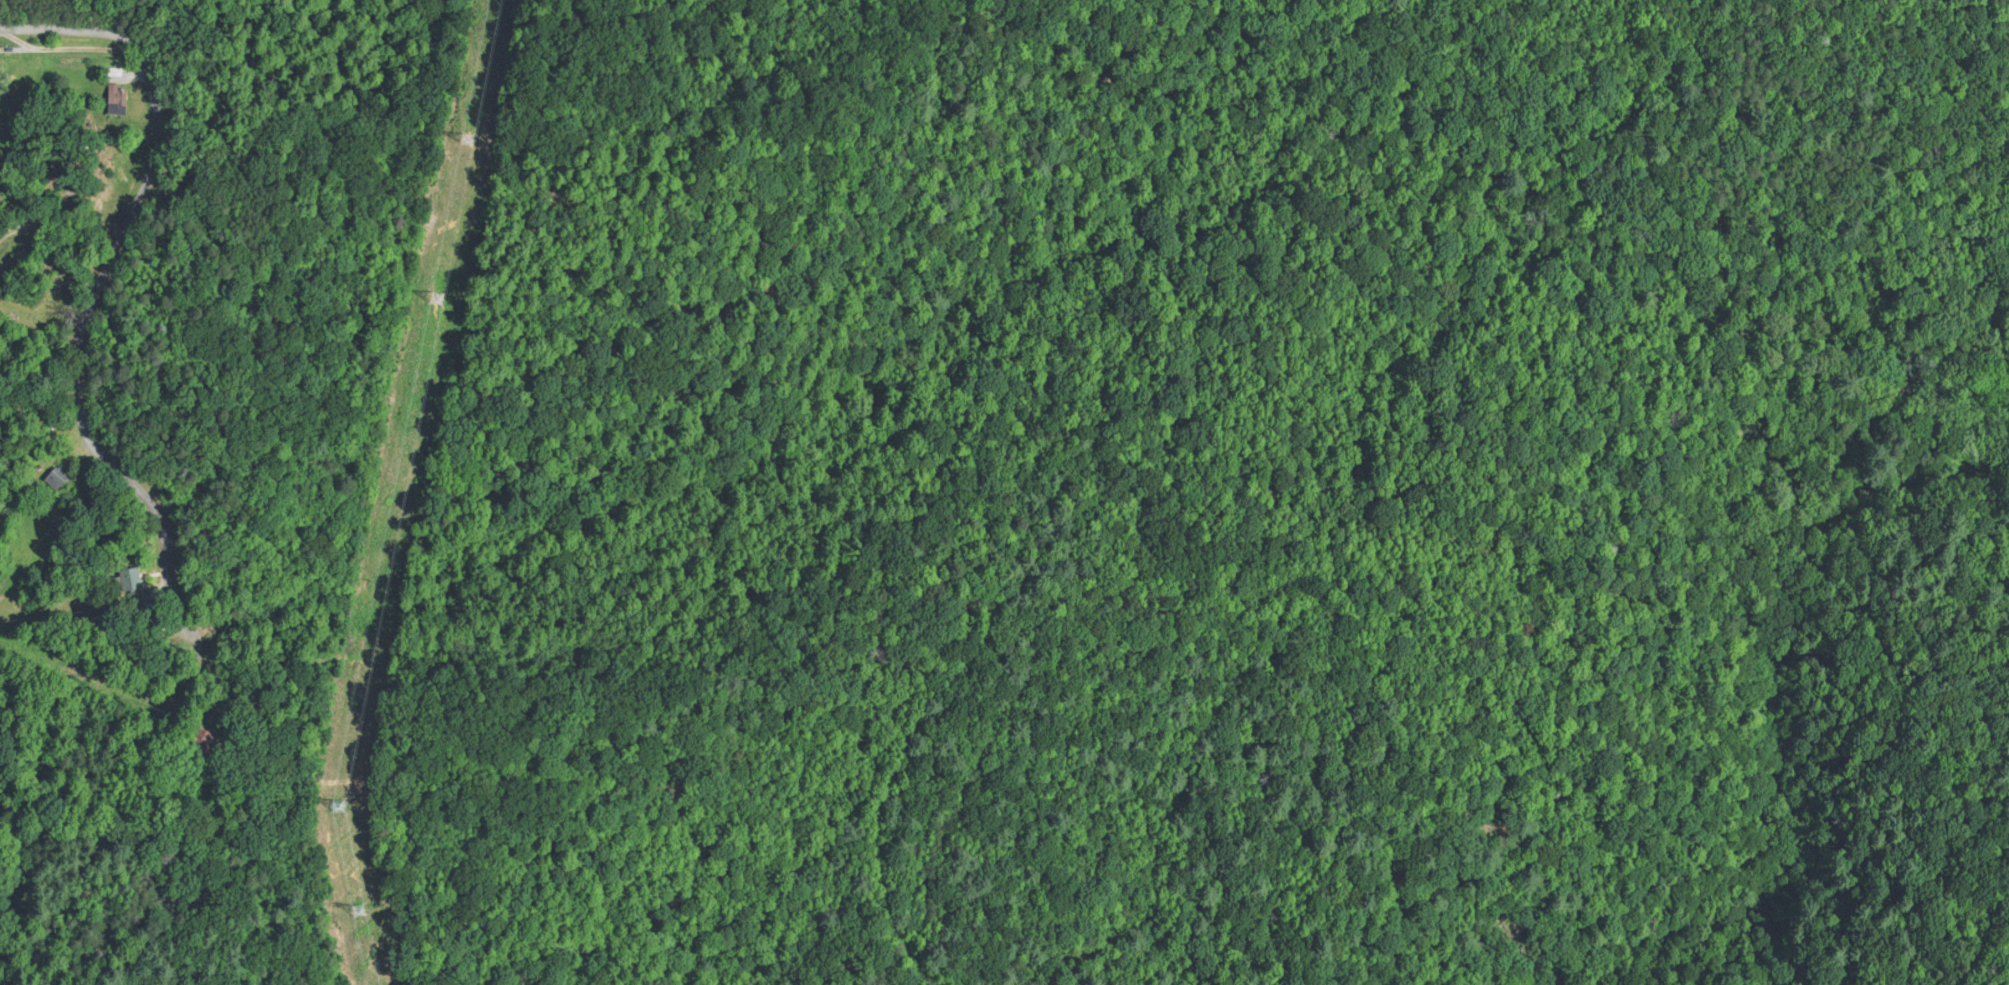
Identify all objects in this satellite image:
power tower: (469, 135)
road: (96, 287)
power tower: (437, 293)
building: (60, 480)
power tower: (338, 805)
power tower: (357, 908)

